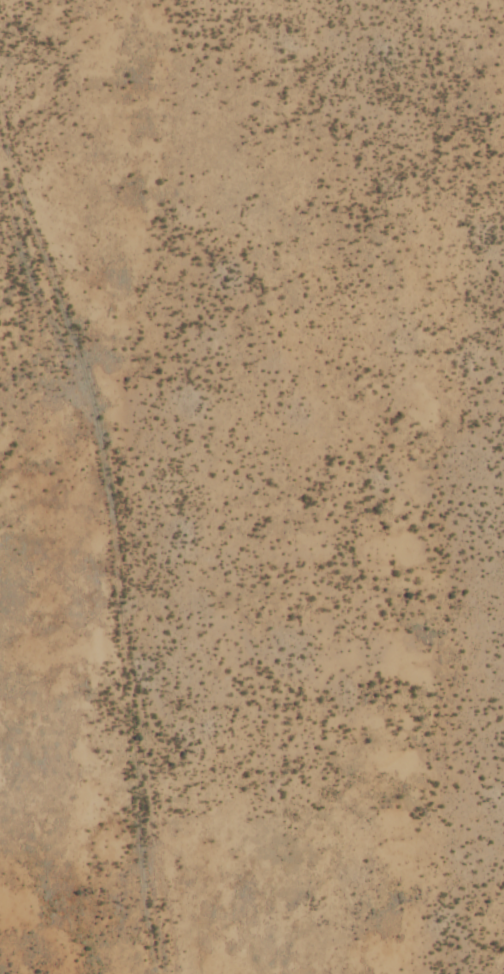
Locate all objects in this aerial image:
road: (113, 600)

